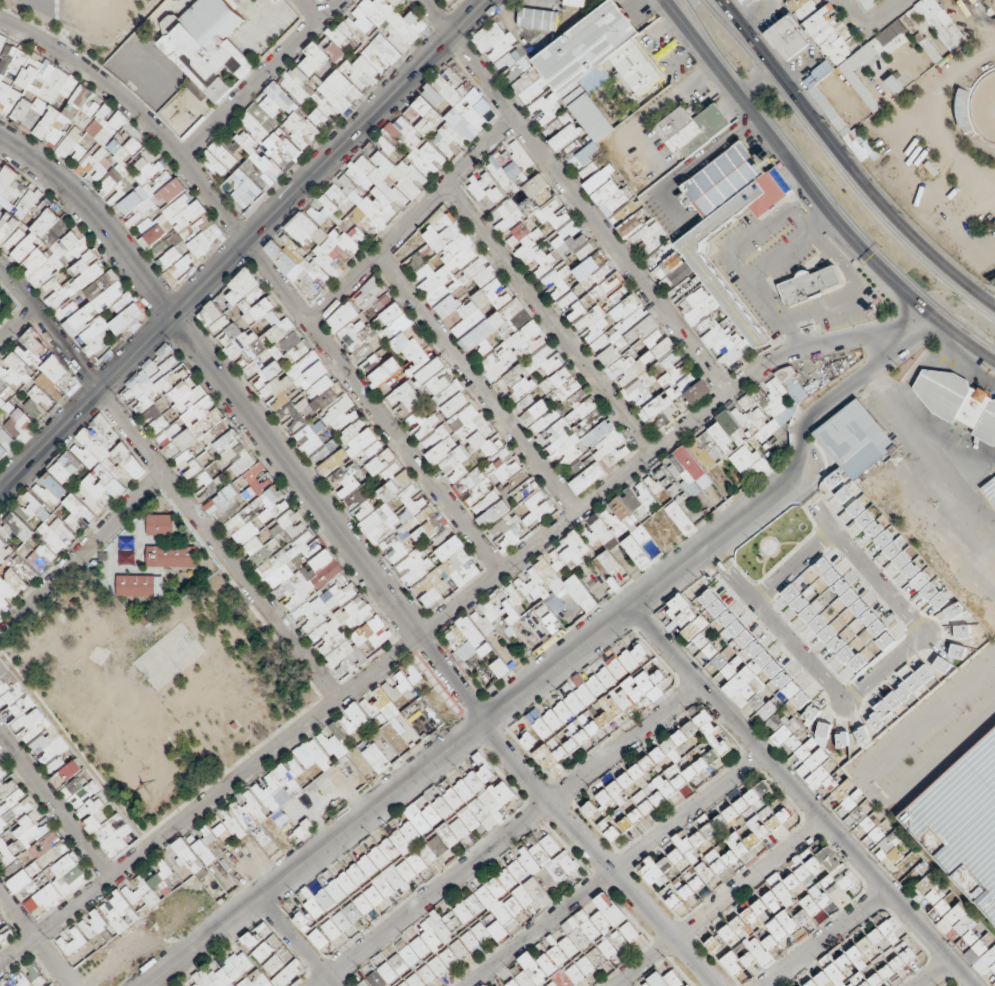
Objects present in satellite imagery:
park: (77, 19)

